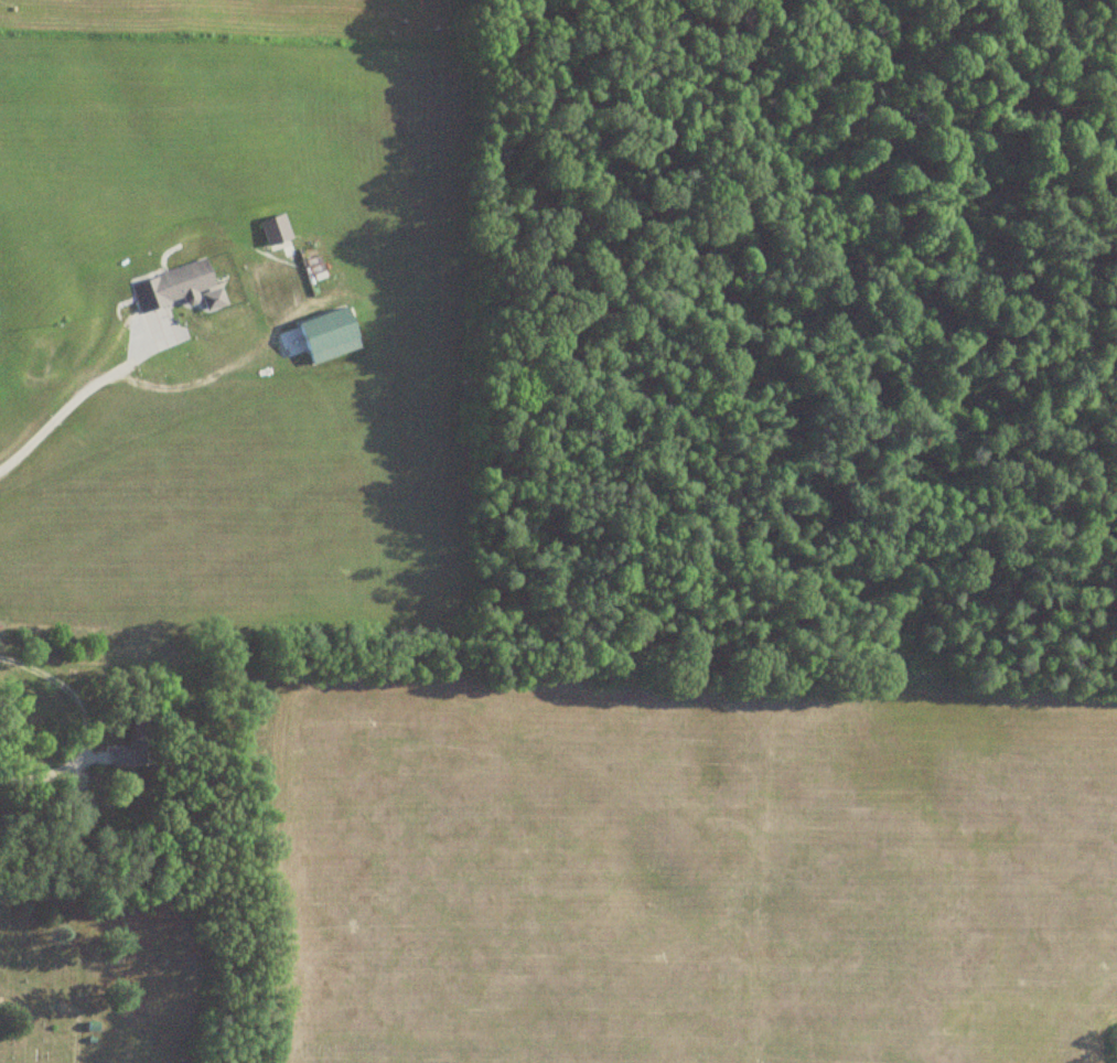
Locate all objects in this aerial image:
building: (170, 291)
road: (76, 390)
building: (137, 742)
park: (108, 946)

